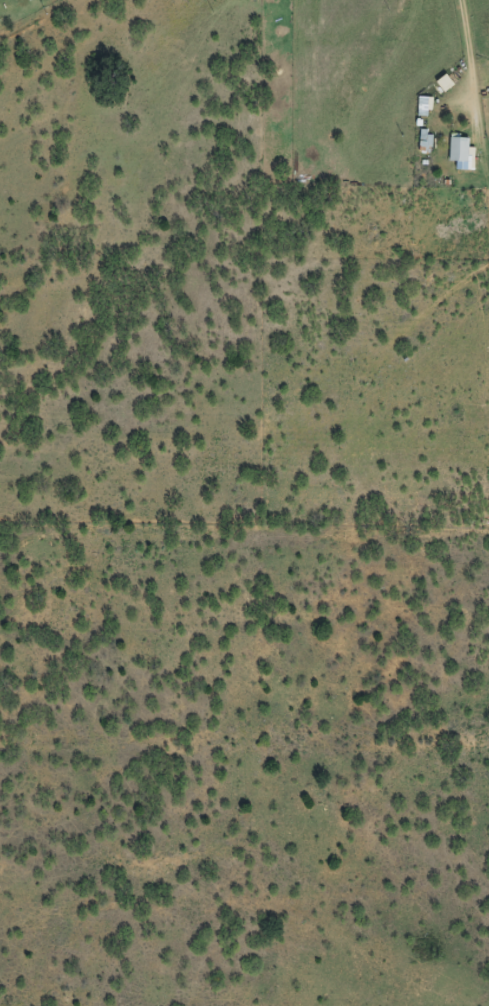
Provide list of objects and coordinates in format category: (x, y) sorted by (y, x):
building: (426, 141)
building: (460, 151)

